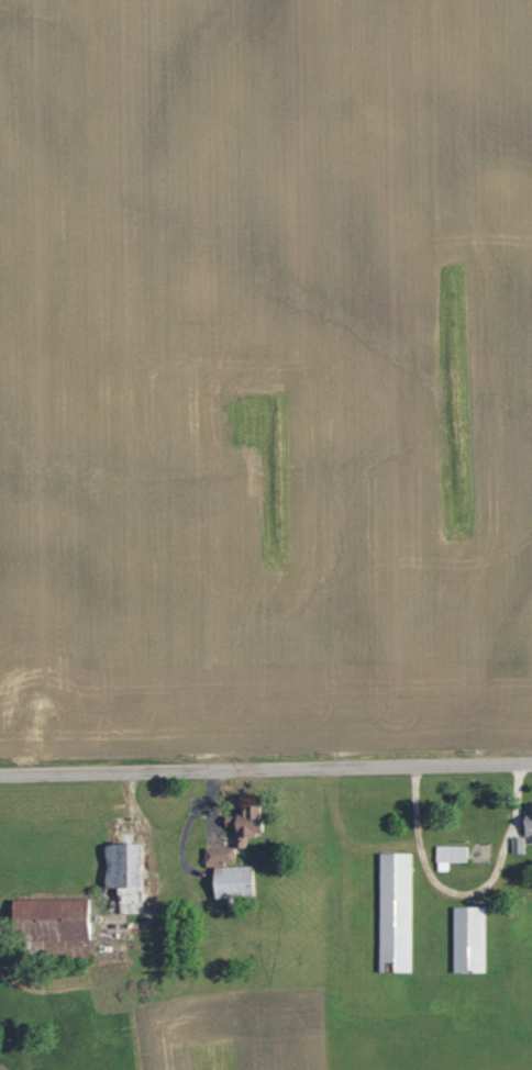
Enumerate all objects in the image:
road: (266, 766)
building: (523, 827)
building: (451, 852)
building: (232, 856)
building: (394, 911)
building: (467, 938)

